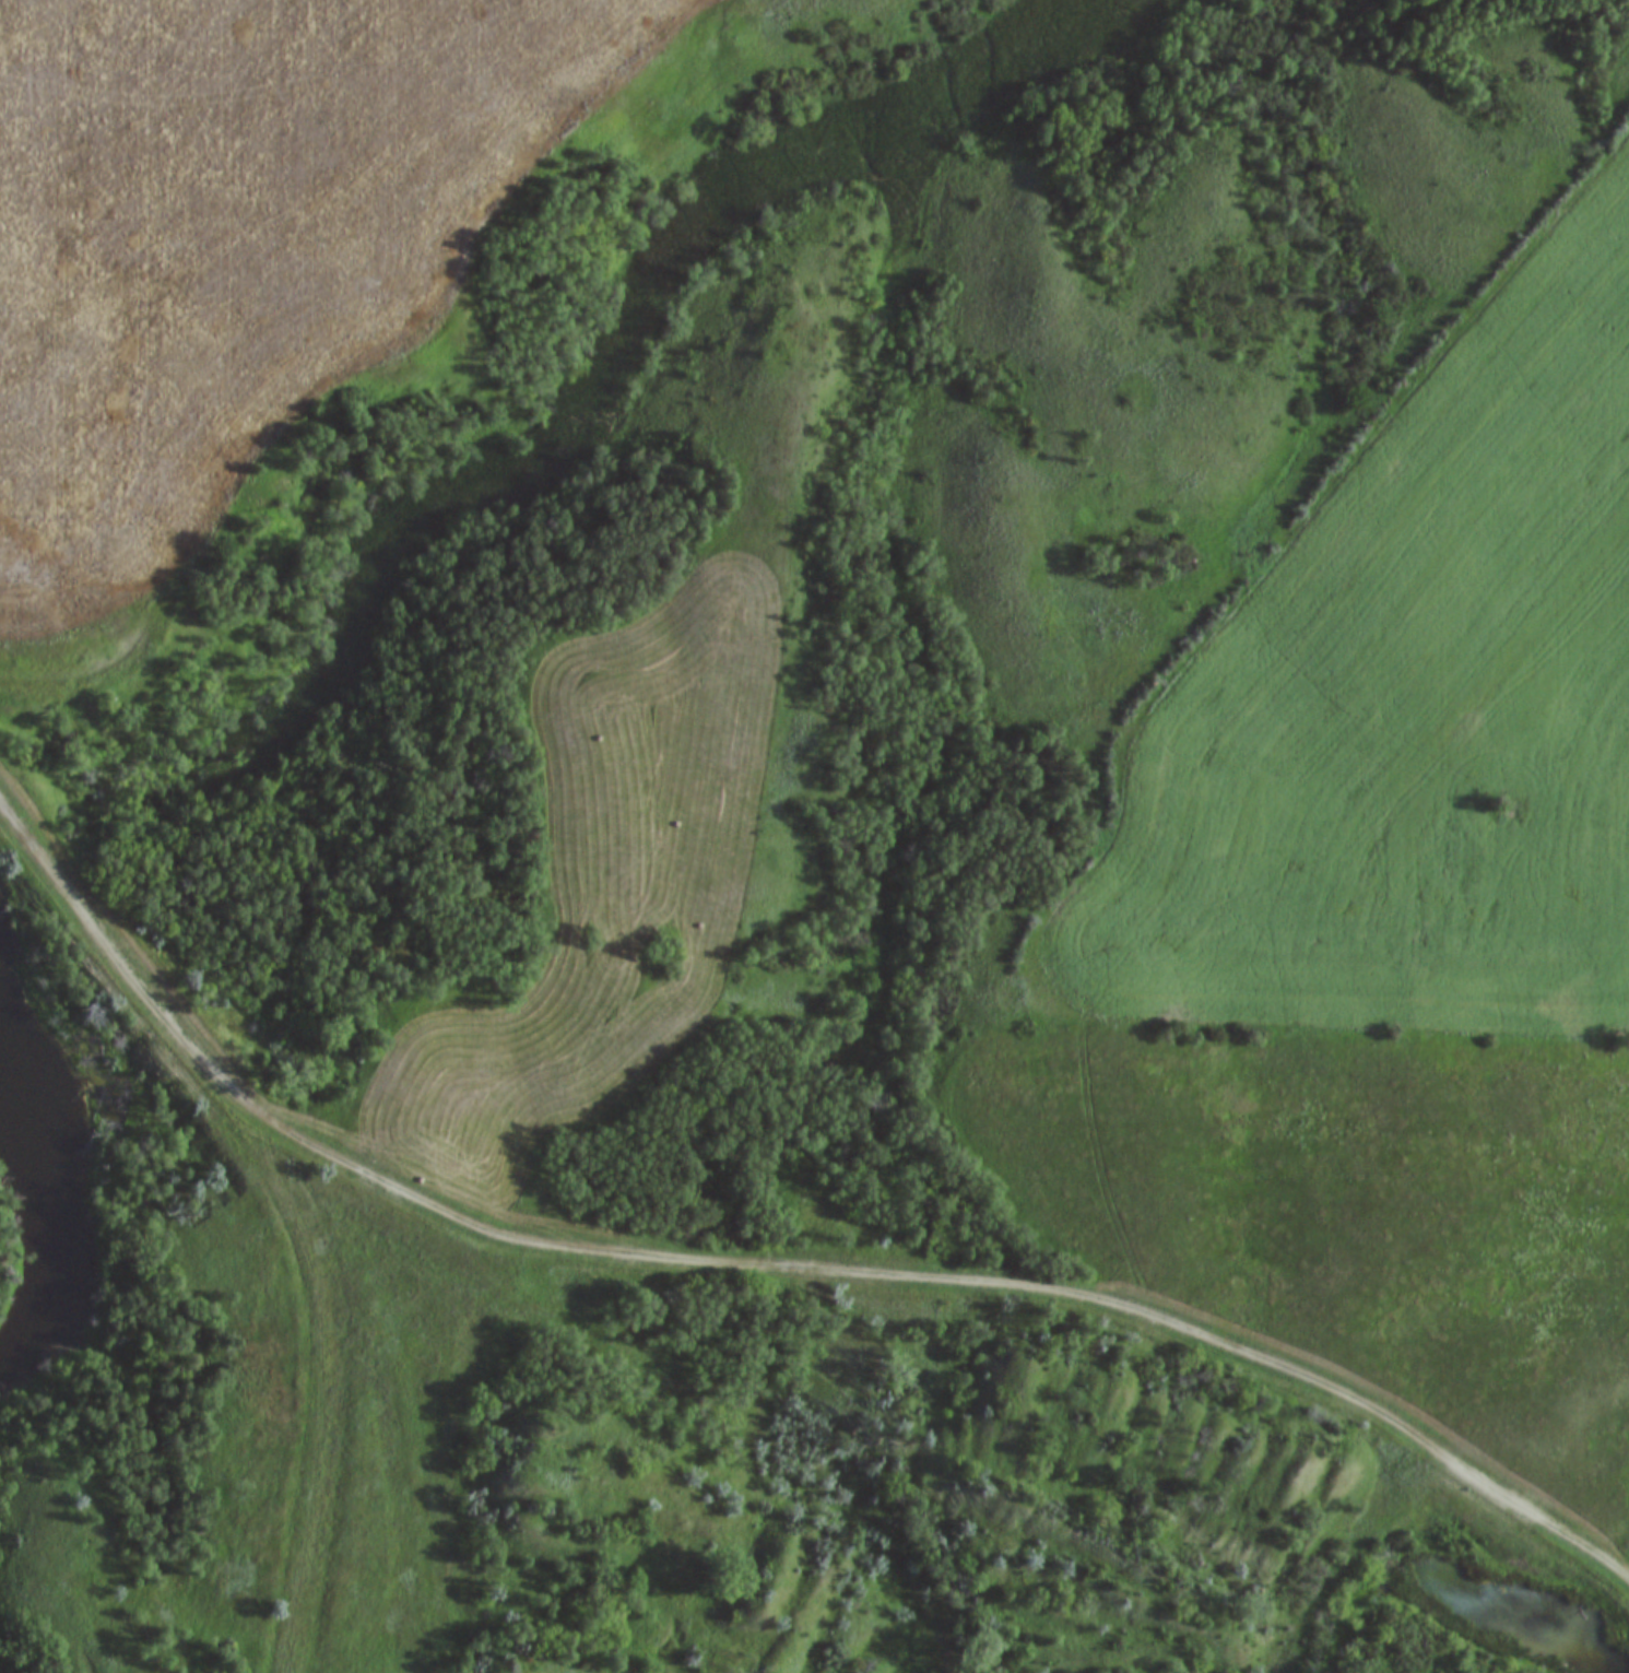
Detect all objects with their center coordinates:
road: (763, 1263)
road: (326, 1340)
quarry: (646, 1413)
road: (340, 1598)

